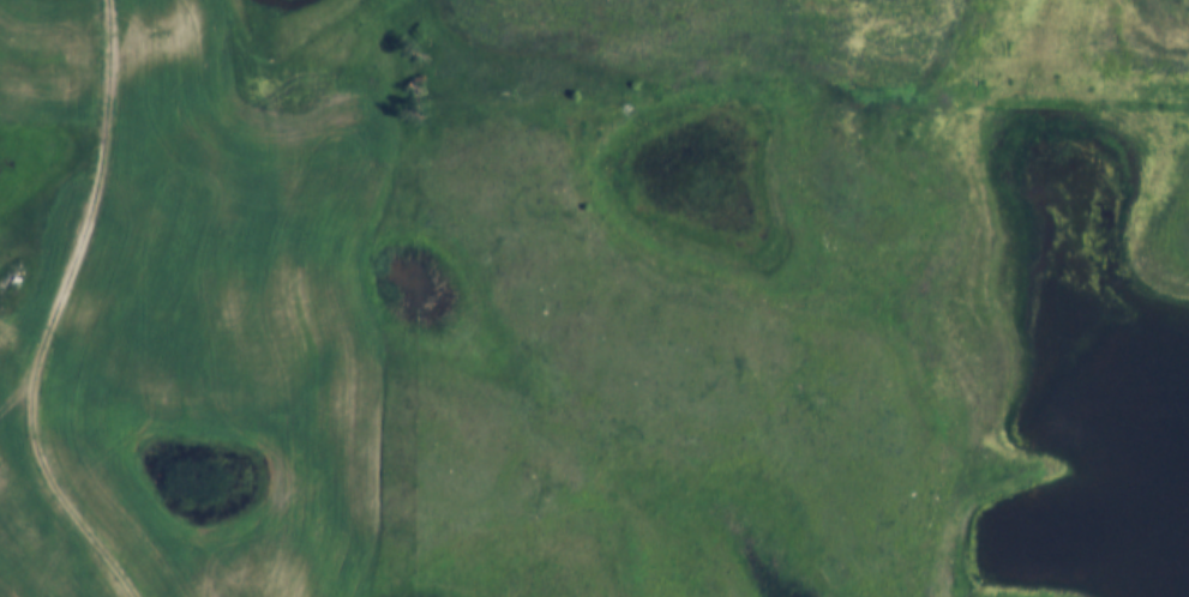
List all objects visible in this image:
road: (281, 307)

